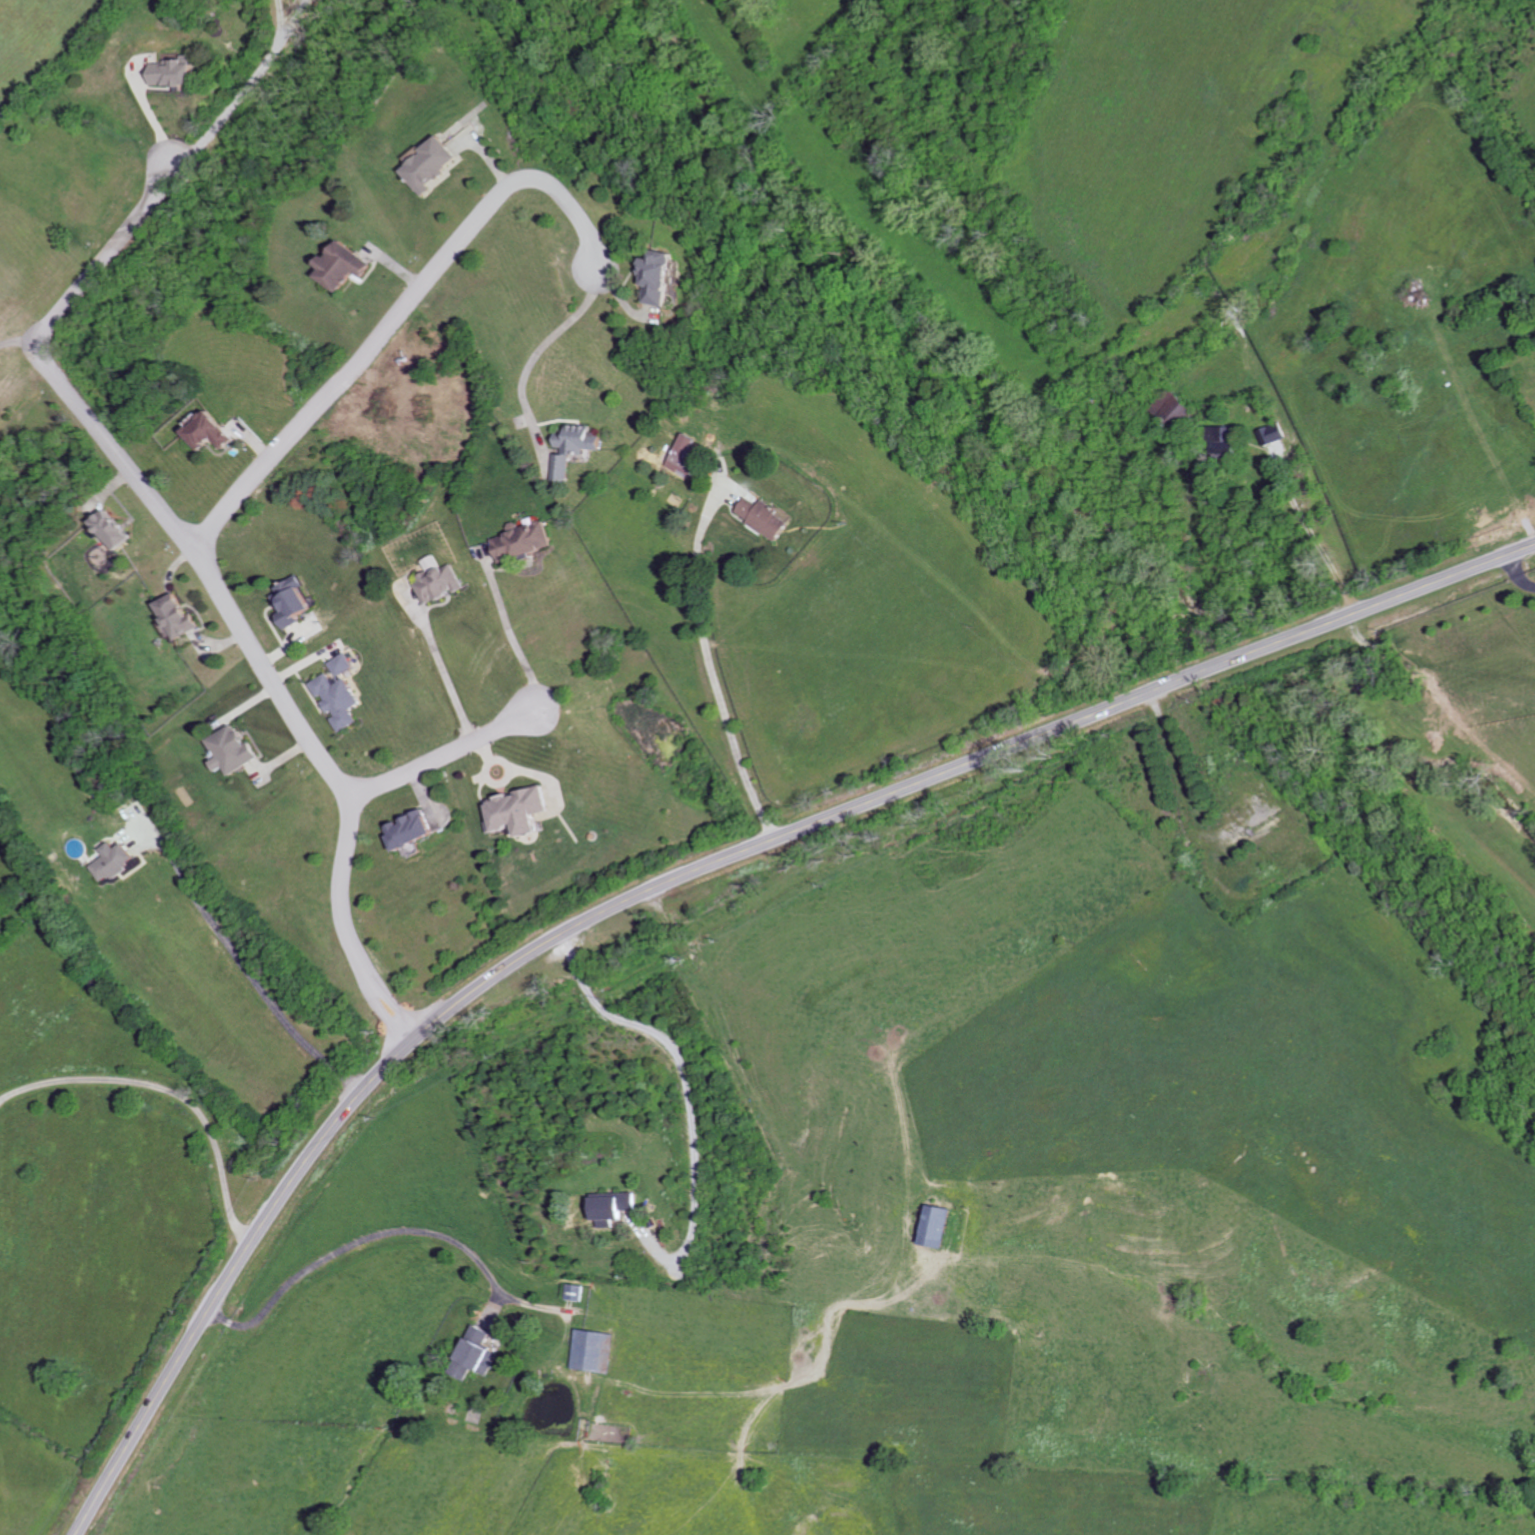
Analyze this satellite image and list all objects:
road: (298, 20)
building: (180, 72)
road: (247, 88)
road: (155, 119)
building: (433, 164)
building: (346, 266)
building: (665, 277)
road: (396, 319)
road: (22, 347)
road: (539, 353)
building: (1177, 408)
building: (213, 431)
building: (1272, 434)
building: (1224, 440)
building: (575, 447)
building: (688, 456)
road: (134, 476)
building: (768, 519)
building: (115, 529)
building: (528, 541)
road: (1321, 544)
building: (441, 582)
building: (294, 602)
building: (180, 616)
road: (516, 635)
road: (712, 667)
road: (457, 670)
building: (341, 693)
building: (235, 751)
road: (442, 757)
building: (524, 811)
building: (415, 830)
building: (116, 862)
road: (681, 877)
road: (348, 928)
road: (243, 962)
road: (380, 990)
road: (173, 1090)
road: (690, 1091)
road: (785, 1143)
building: (615, 1208)
building: (939, 1227)
road: (353, 1242)
building: (577, 1293)
building: (595, 1351)
building: (478, 1355)

